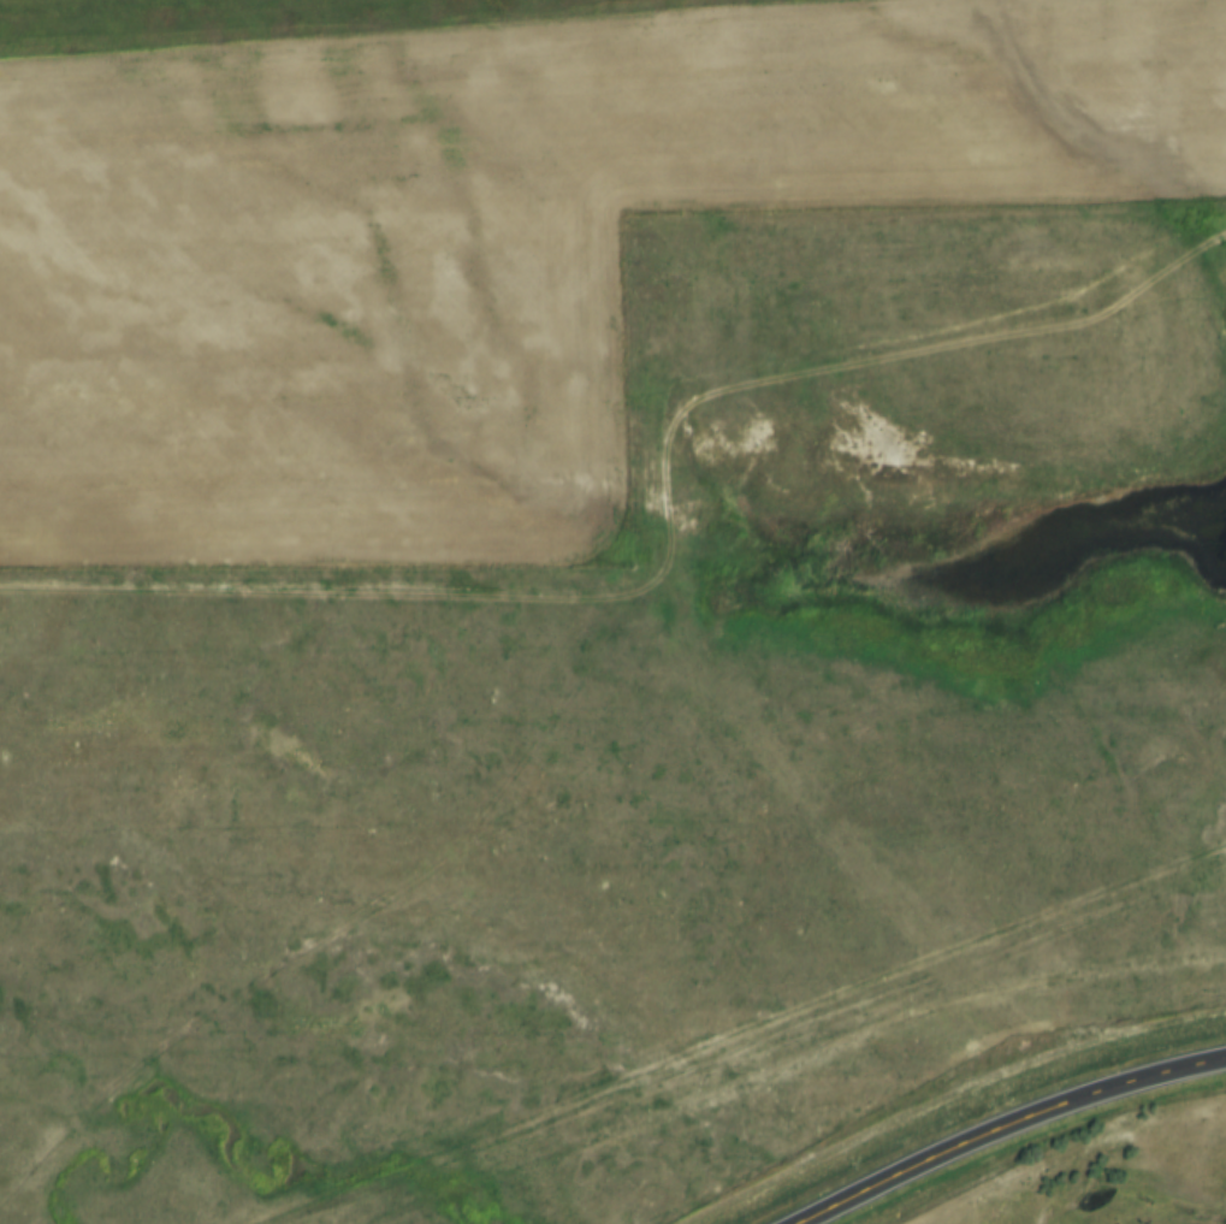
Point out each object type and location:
road: (558, 806)
road: (1007, 1125)

